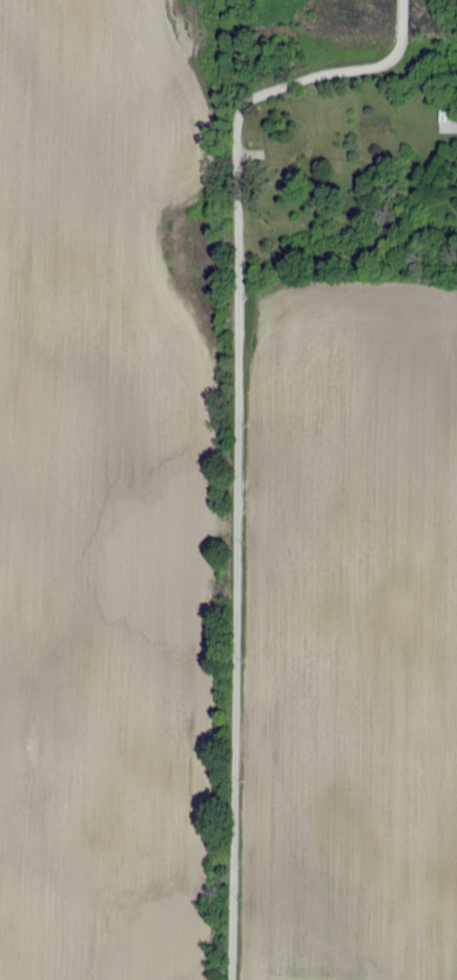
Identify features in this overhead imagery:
road: (236, 432)

